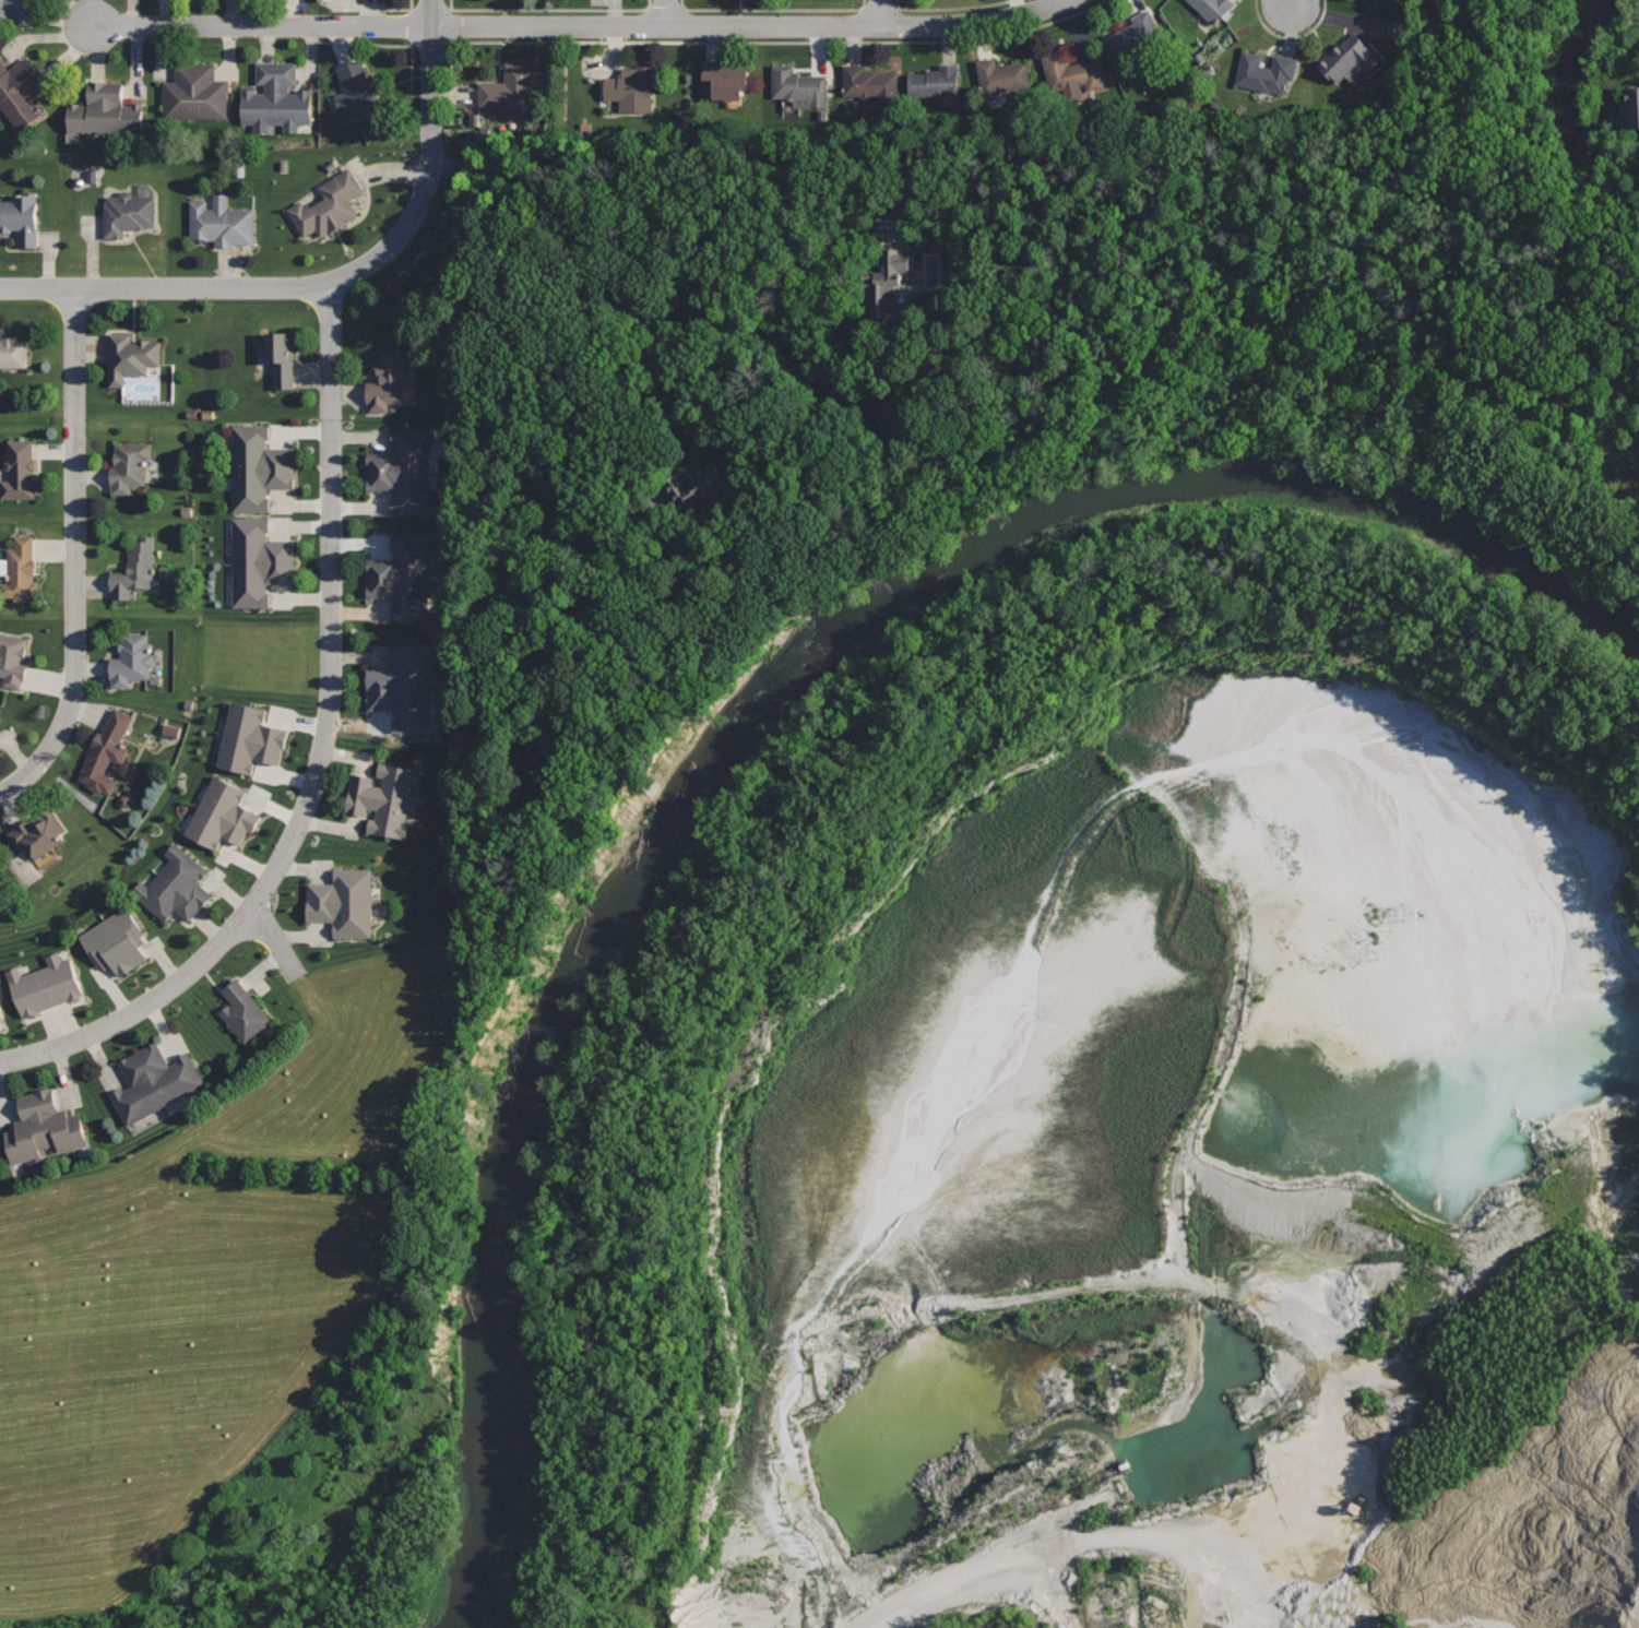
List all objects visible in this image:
building: (329, 0)
road: (1292, 1)
road: (952, 8)
building: (16, 9)
building: (1212, 9)
road: (378, 10)
road: (549, 10)
road: (774, 10)
road: (667, 13)
road: (882, 13)
road: (264, 26)
road: (750, 26)
building: (1135, 33)
road: (1292, 37)
road: (740, 43)
road: (411, 44)
building: (1349, 59)
building: (1264, 71)
building: (1071, 73)
building: (1001, 74)
building: (723, 79)
building: (935, 80)
building: (872, 83)
building: (798, 86)
building: (357, 88)
building: (630, 88)
building: (510, 90)
building: (21, 91)
building: (195, 92)
building: (277, 98)
building: (1632, 106)
building: (105, 110)
building: (328, 205)
building: (127, 213)
building: (891, 213)
building: (21, 216)
building: (221, 221)
road: (709, 241)
road: (329, 282)
building: (894, 287)
road: (829, 298)
building: (14, 352)
building: (131, 356)
building: (280, 357)
road: (558, 363)
building: (389, 379)
road: (729, 420)
building: (130, 465)
building: (258, 466)
building: (20, 471)
building: (402, 471)
building: (702, 488)
road: (75, 554)
building: (259, 561)
building: (20, 569)
building: (135, 569)
building: (401, 578)
building: (12, 658)
building: (132, 658)
building: (402, 687)
building: (175, 730)
river: (775, 736)
building: (249, 738)
building: (107, 753)
road: (320, 753)
building: (384, 798)
building: (223, 813)
building: (39, 831)
building: (175, 884)
building: (344, 901)
building: (116, 940)
road: (275, 942)
building: (45, 985)
building: (245, 1011)
building: (1, 1013)
building: (154, 1083)
quarry: (1113, 1122)
building: (44, 1126)
road: (678, 1501)
road: (1024, 1554)

